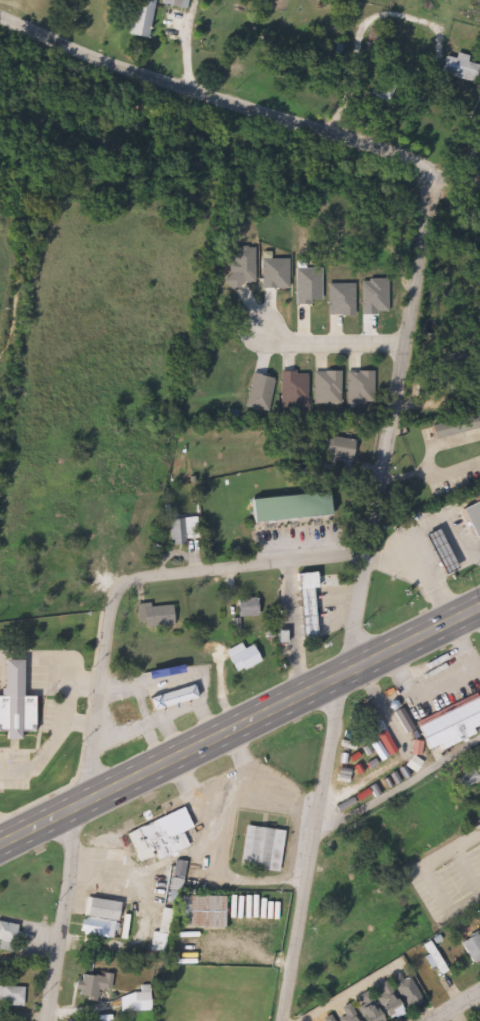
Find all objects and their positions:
building: (171, 3)
building: (134, 17)
building: (455, 67)
road: (226, 101)
road: (461, 167)
road: (328, 341)
building: (454, 425)
building: (282, 506)
building: (471, 516)
building: (174, 530)
building: (50, 575)
building: (302, 603)
building: (244, 607)
road: (355, 612)
building: (152, 616)
building: (240, 658)
road: (98, 679)
building: (12, 703)
building: (148, 704)
building: (449, 724)
road: (239, 726)
road: (398, 781)
building: (159, 830)
building: (259, 850)
building: (173, 877)
building: (197, 912)
building: (94, 918)
building: (5, 933)
building: (153, 943)
building: (470, 947)
building: (88, 985)
building: (10, 995)
road: (457, 1007)

